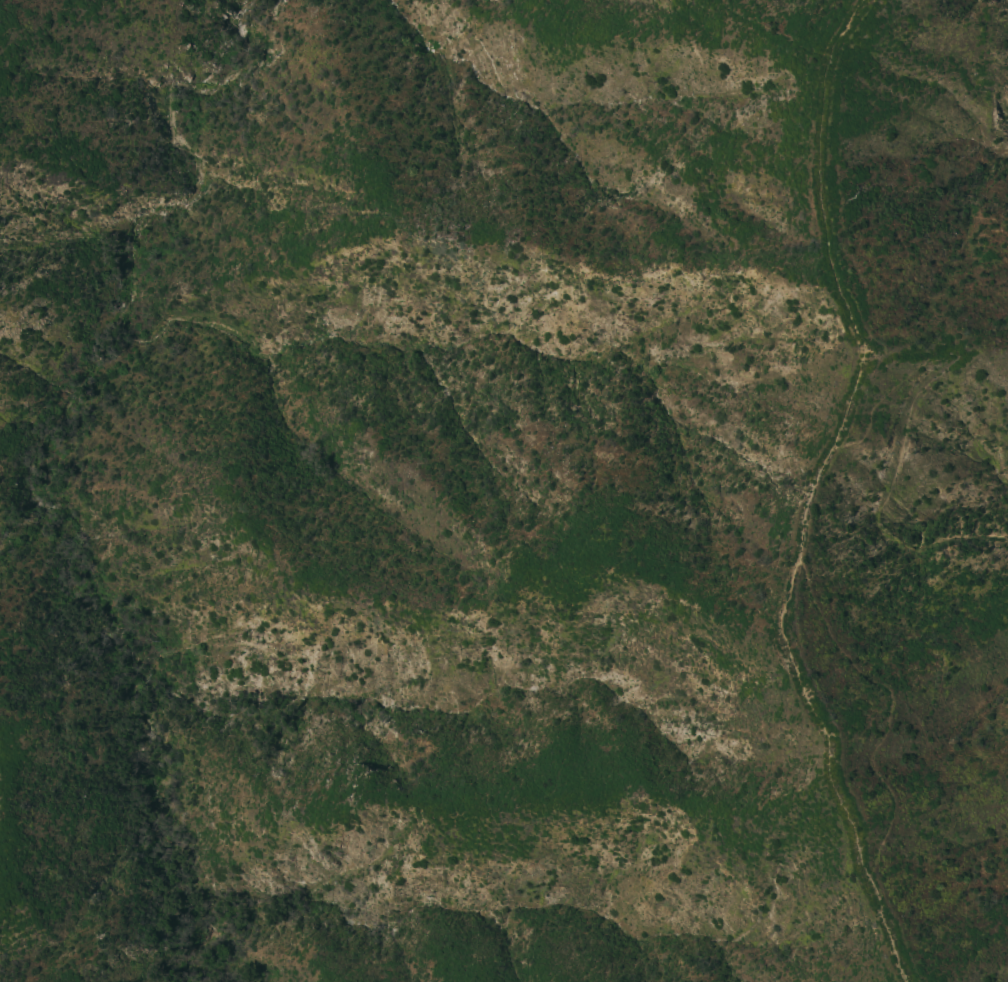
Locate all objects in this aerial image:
road: (823, 225)
road: (823, 472)
road: (819, 716)

